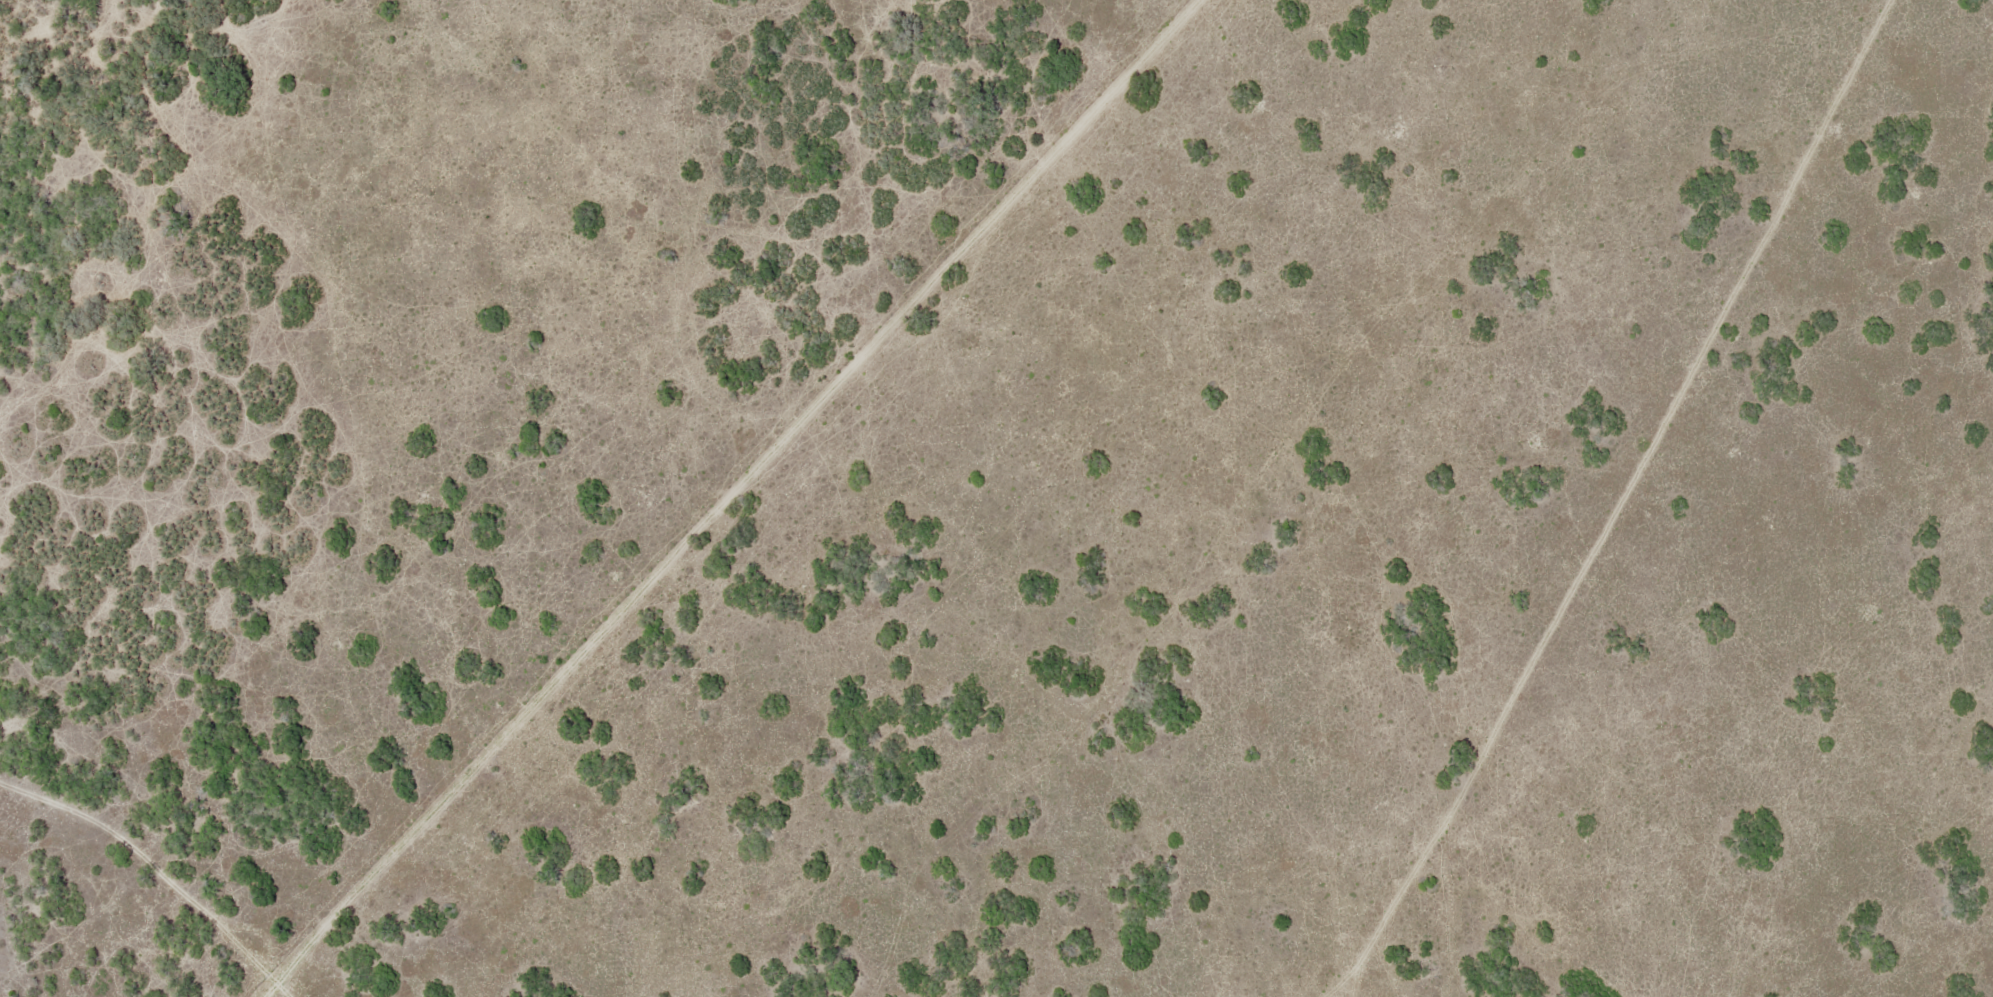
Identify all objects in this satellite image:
road: (261, 279)
road: (1622, 503)
road: (98, 804)
road: (655, 905)
road: (1465, 929)
road: (236, 933)

